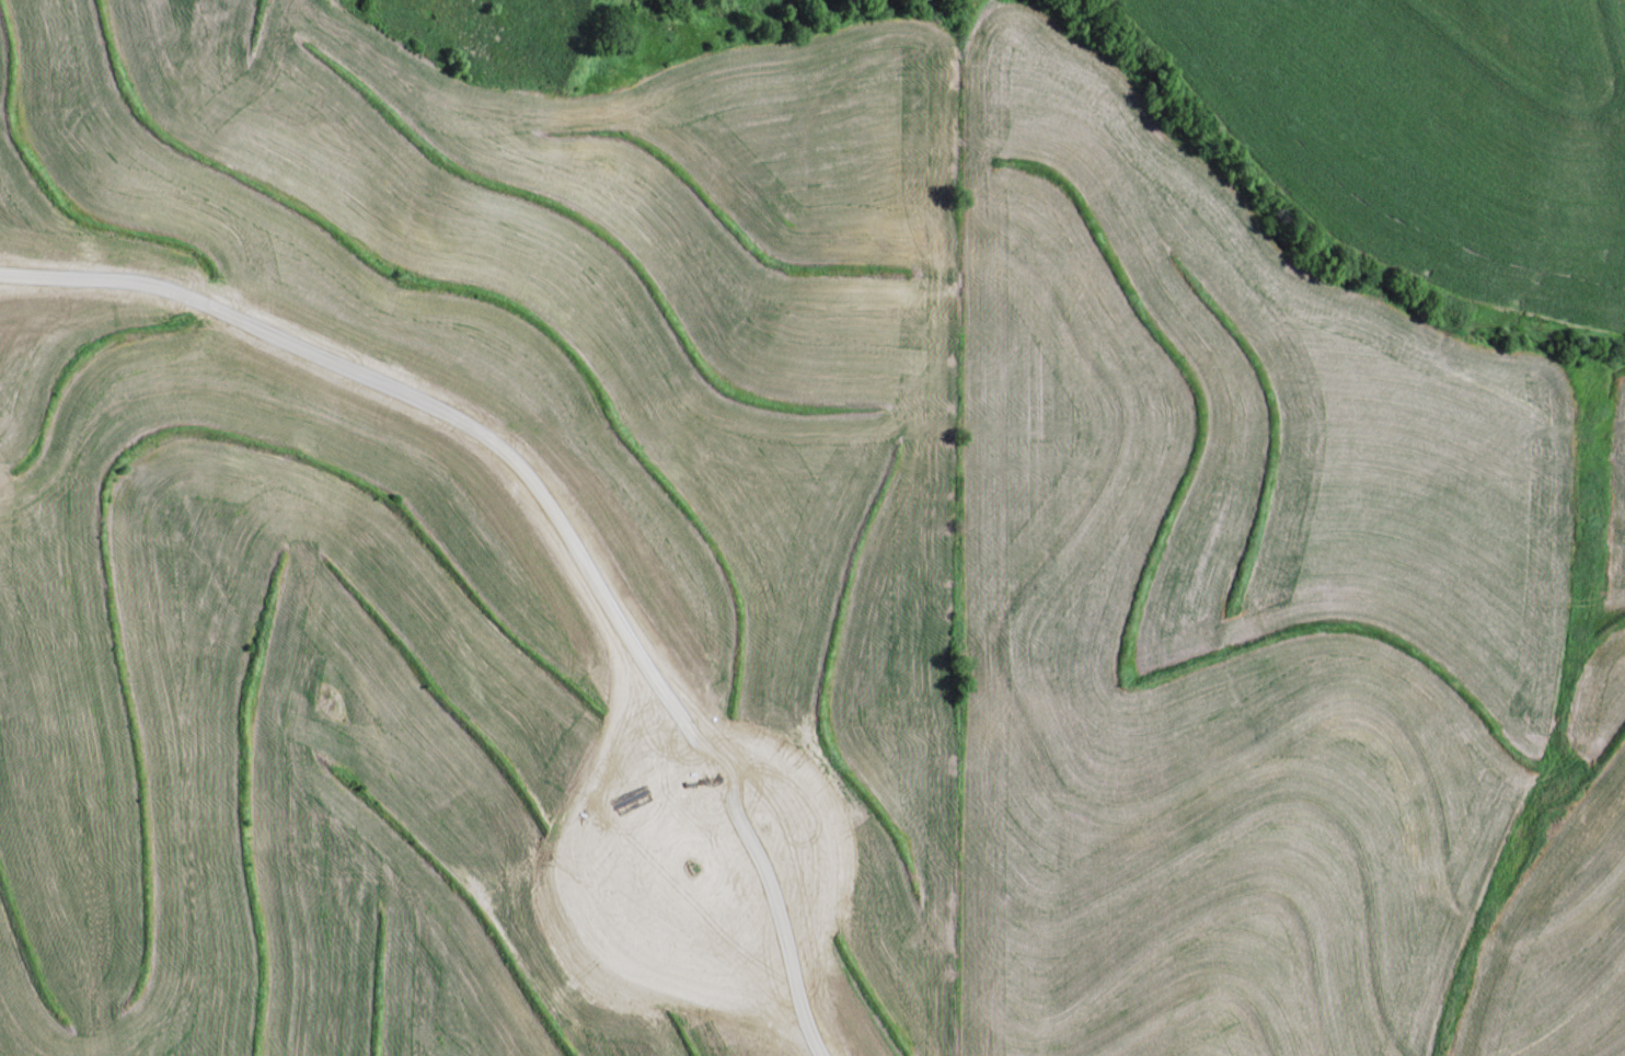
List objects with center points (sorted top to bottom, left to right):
wind turbine: (691, 868)

